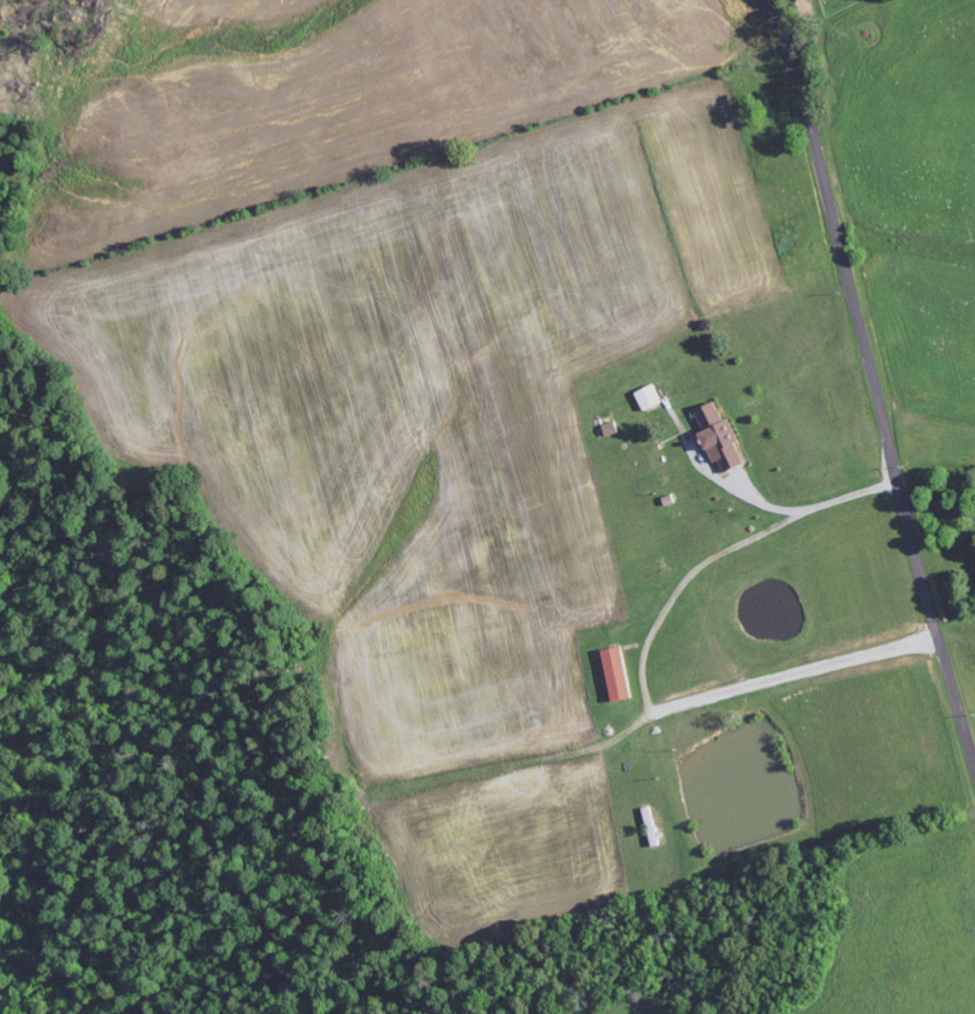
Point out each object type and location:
park: (835, 6)
road: (874, 378)
building: (651, 398)
building: (723, 437)
building: (621, 674)

